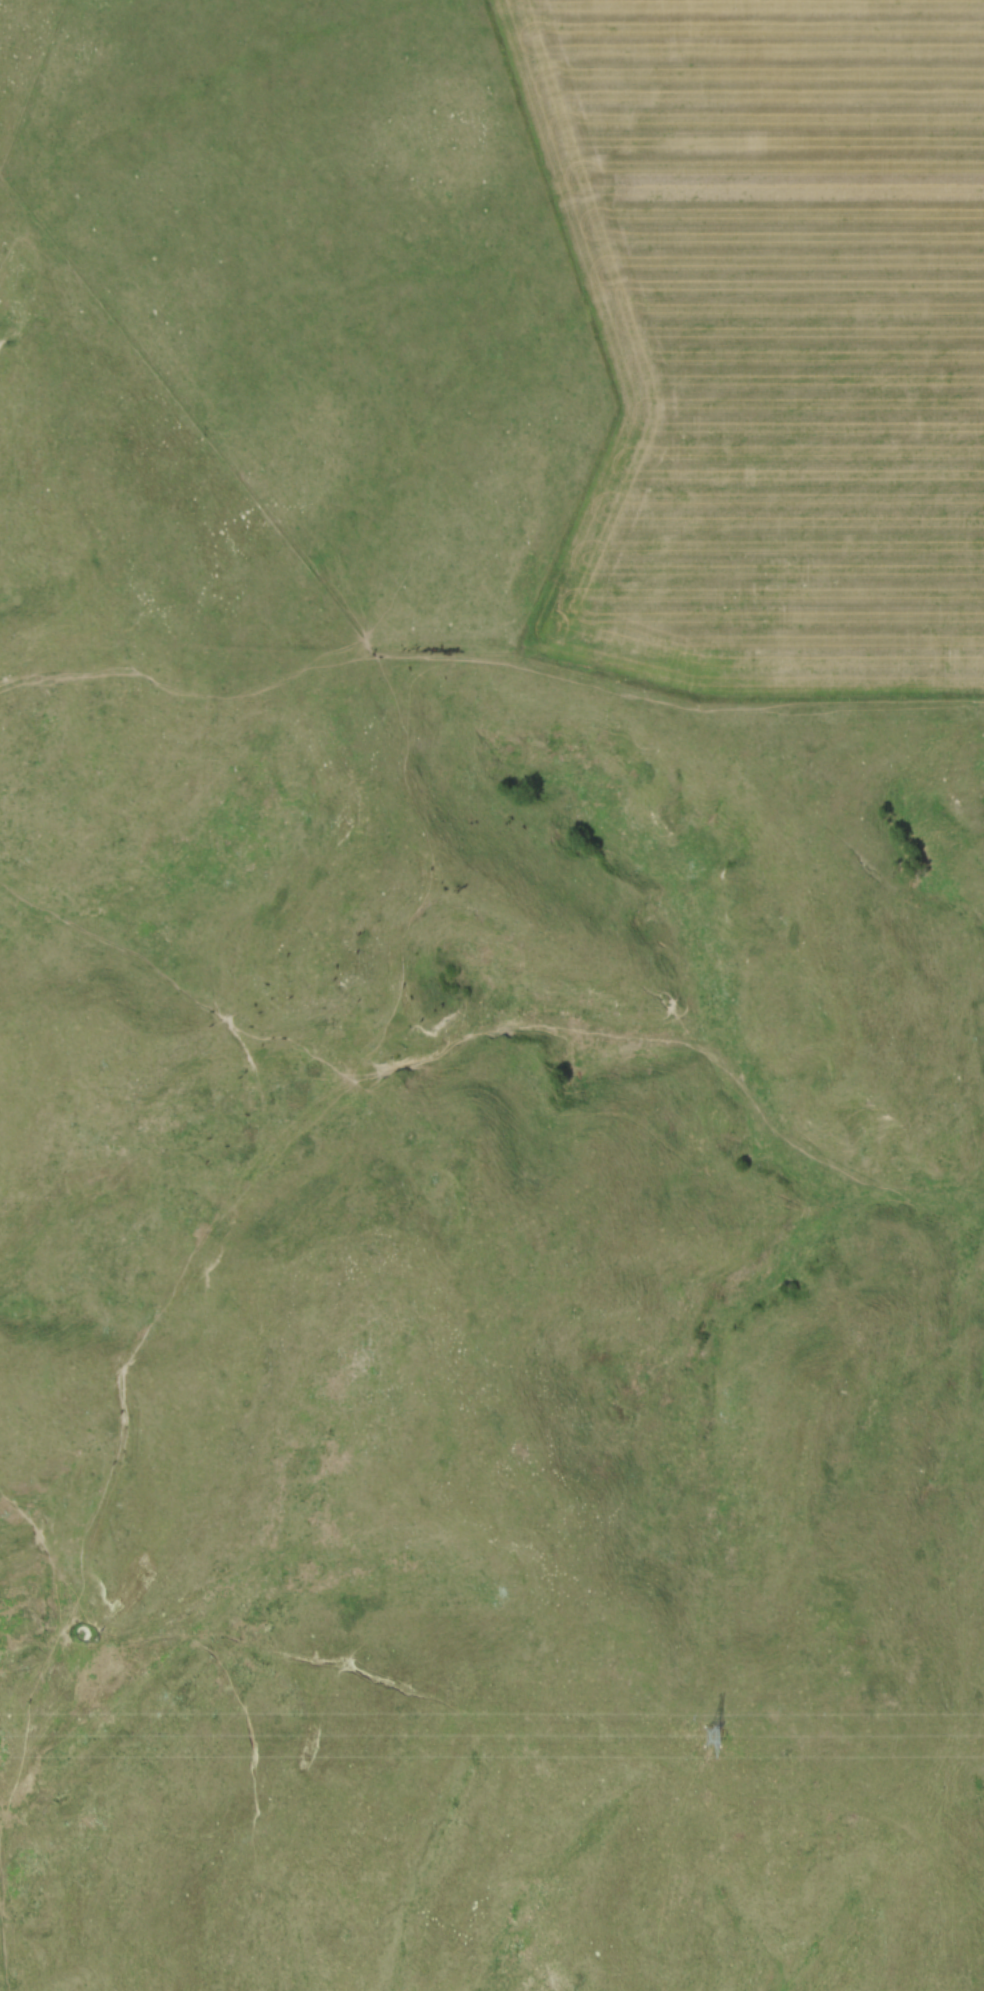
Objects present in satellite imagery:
power tower: (715, 1734)

